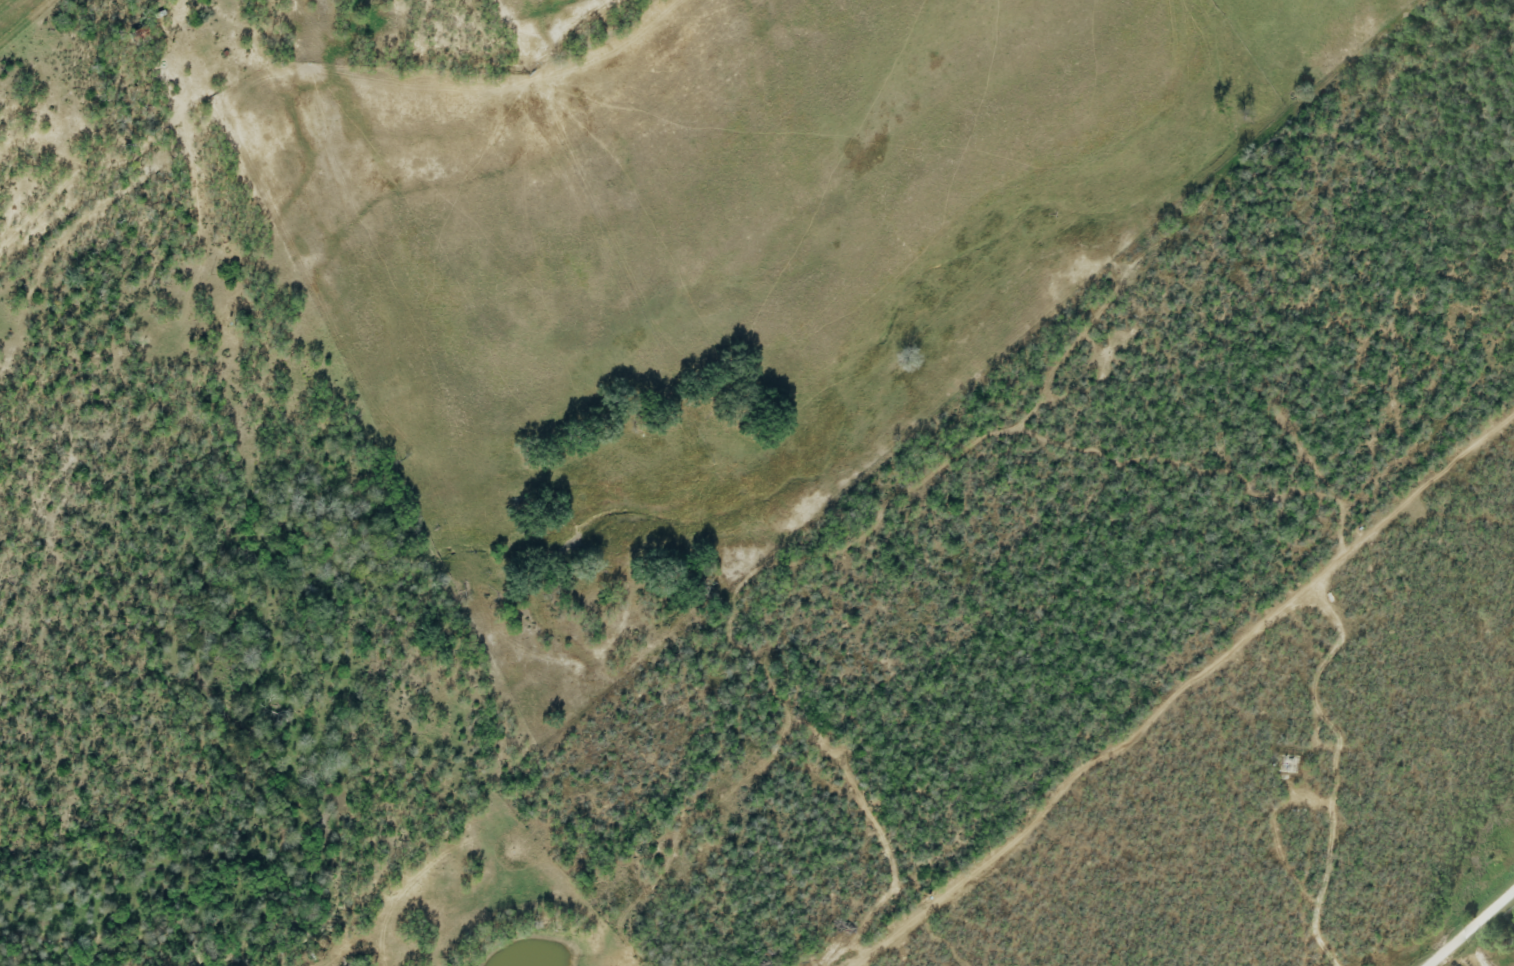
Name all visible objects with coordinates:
road: (1472, 929)

